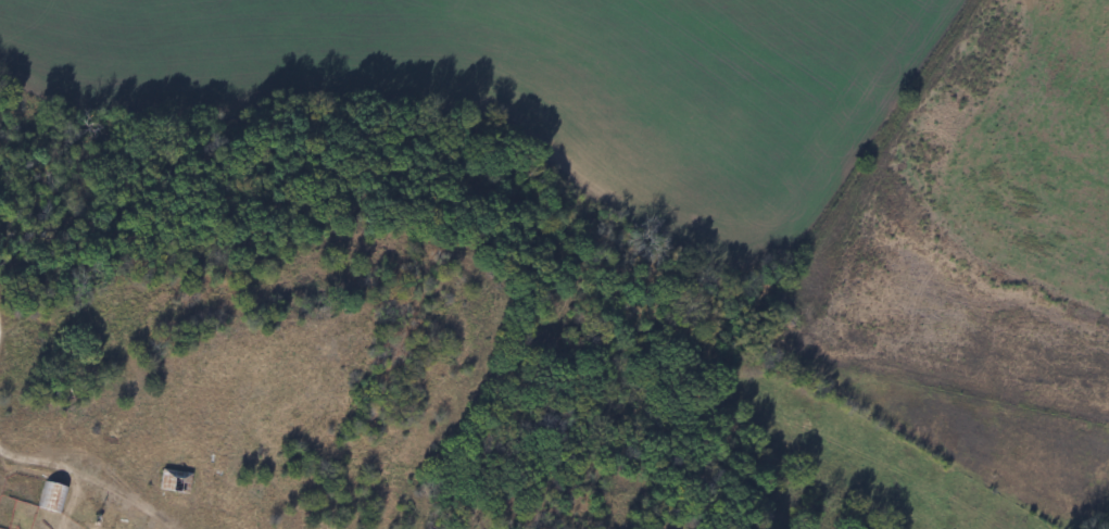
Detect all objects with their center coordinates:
building: (173, 481)
road: (37, 484)
building: (50, 496)

